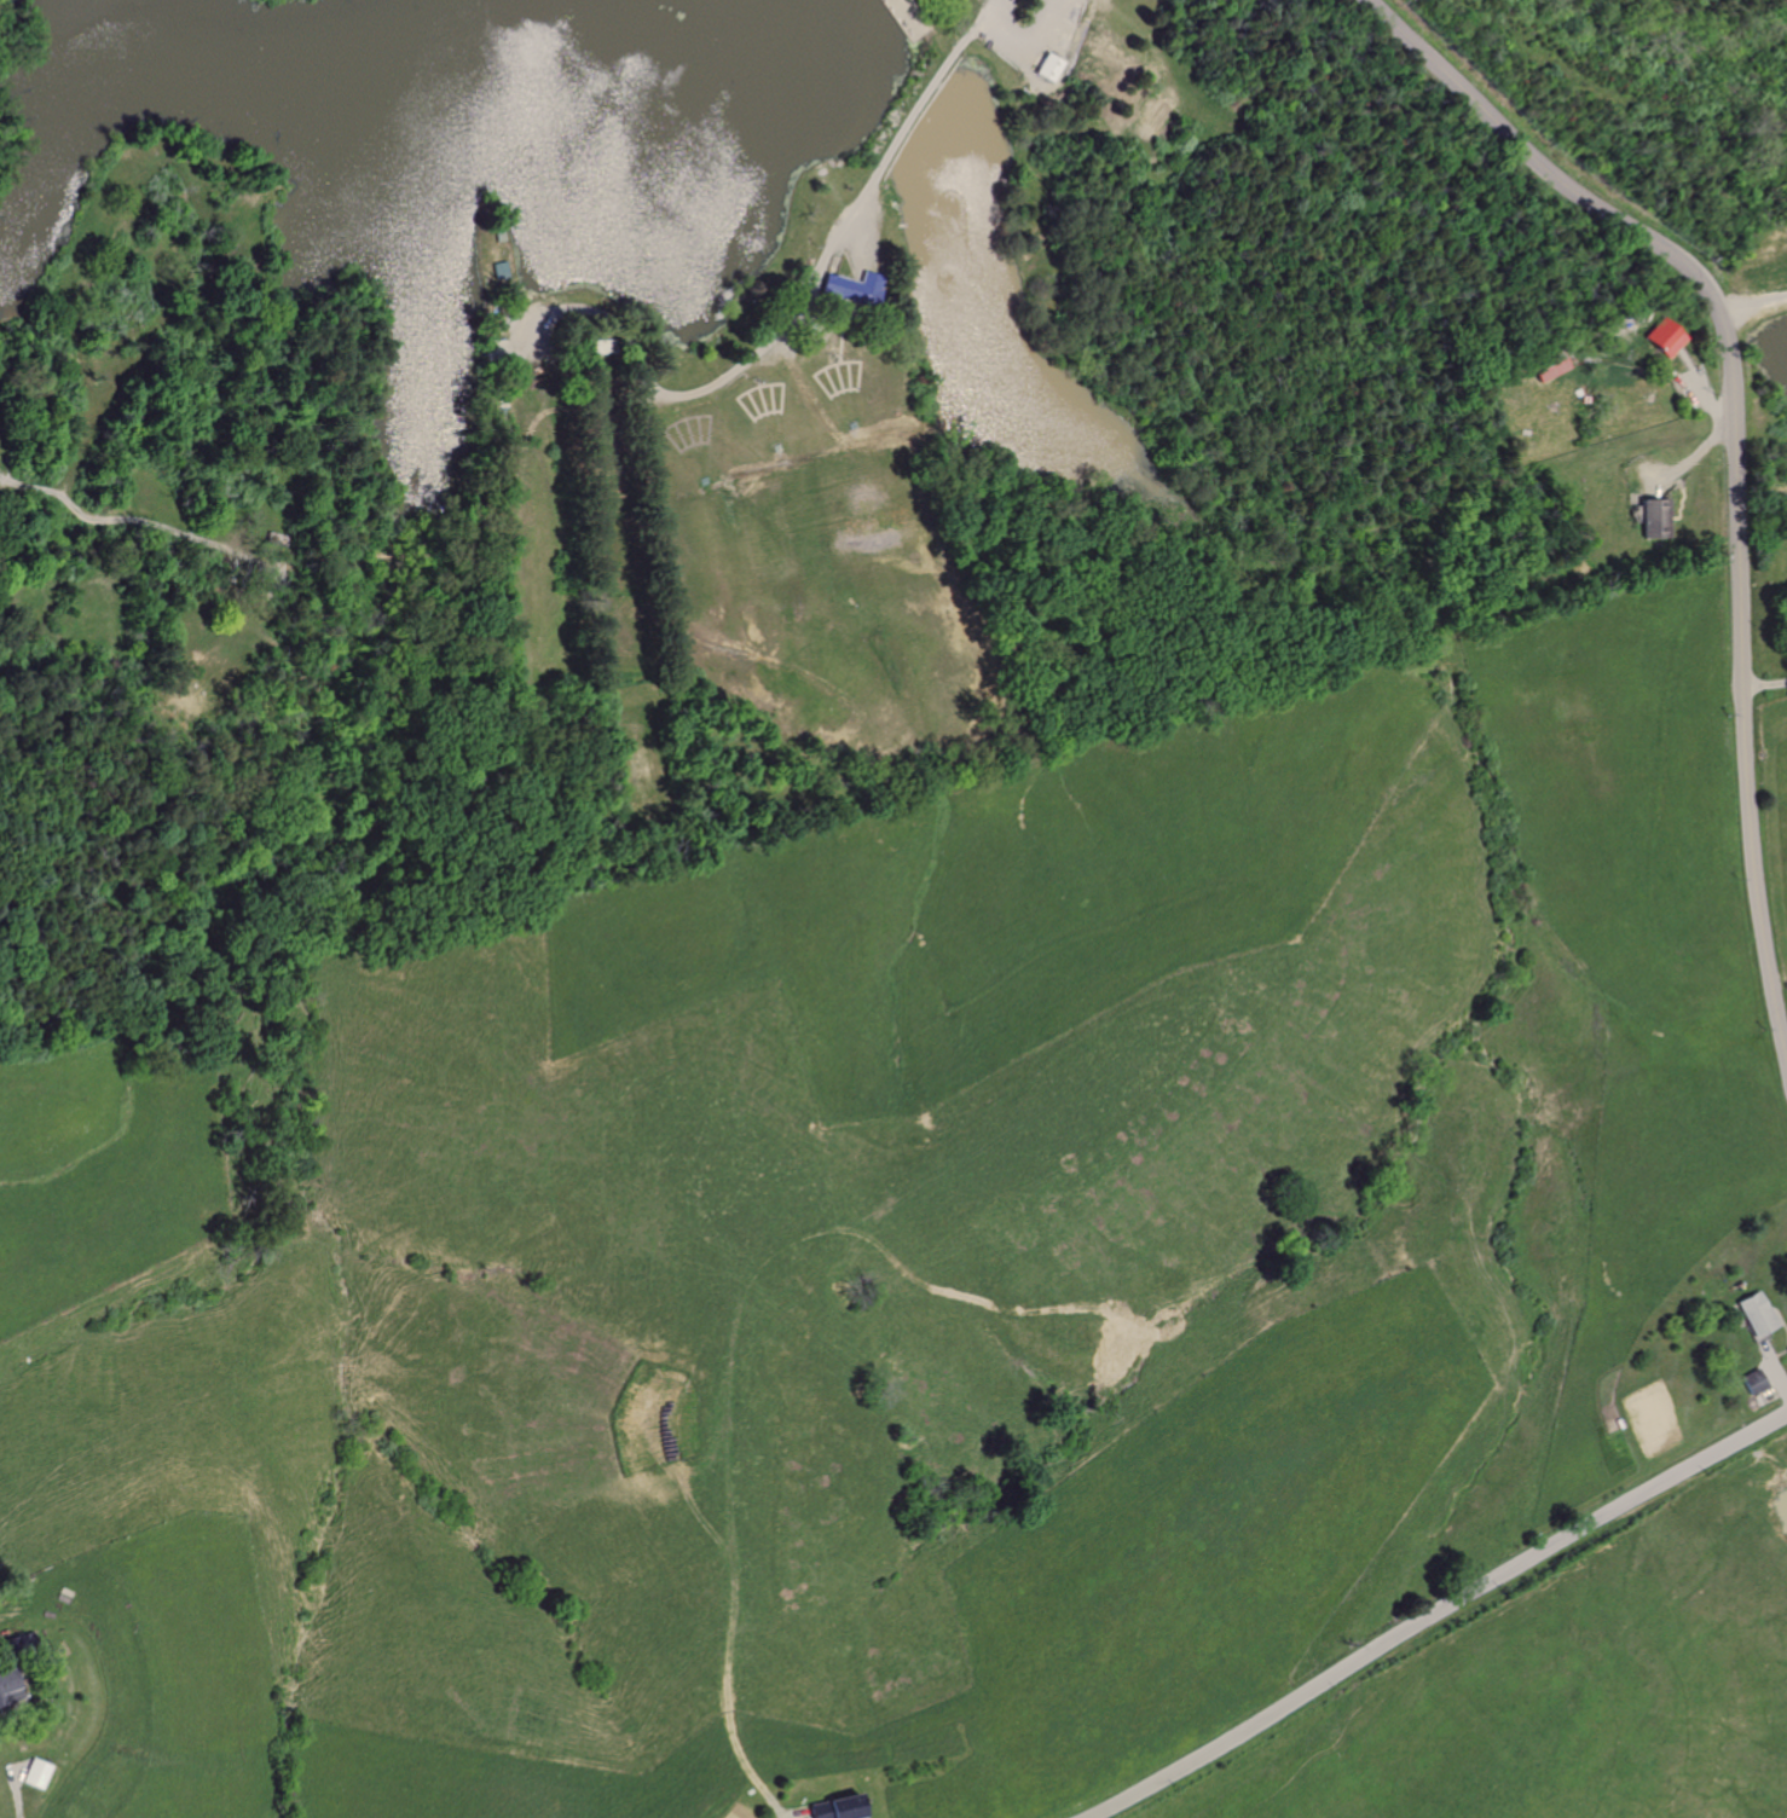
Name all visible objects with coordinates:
building: (1056, 63)
road: (842, 226)
building: (497, 268)
building: (852, 283)
road: (1748, 302)
building: (1658, 337)
building: (1550, 367)
road: (1730, 463)
building: (1658, 517)
building: (1643, 519)
road: (1764, 673)
road: (1785, 1071)
building: (1752, 1313)
building: (1752, 1382)
road: (1432, 1610)
building: (5, 1689)
building: (34, 1773)

